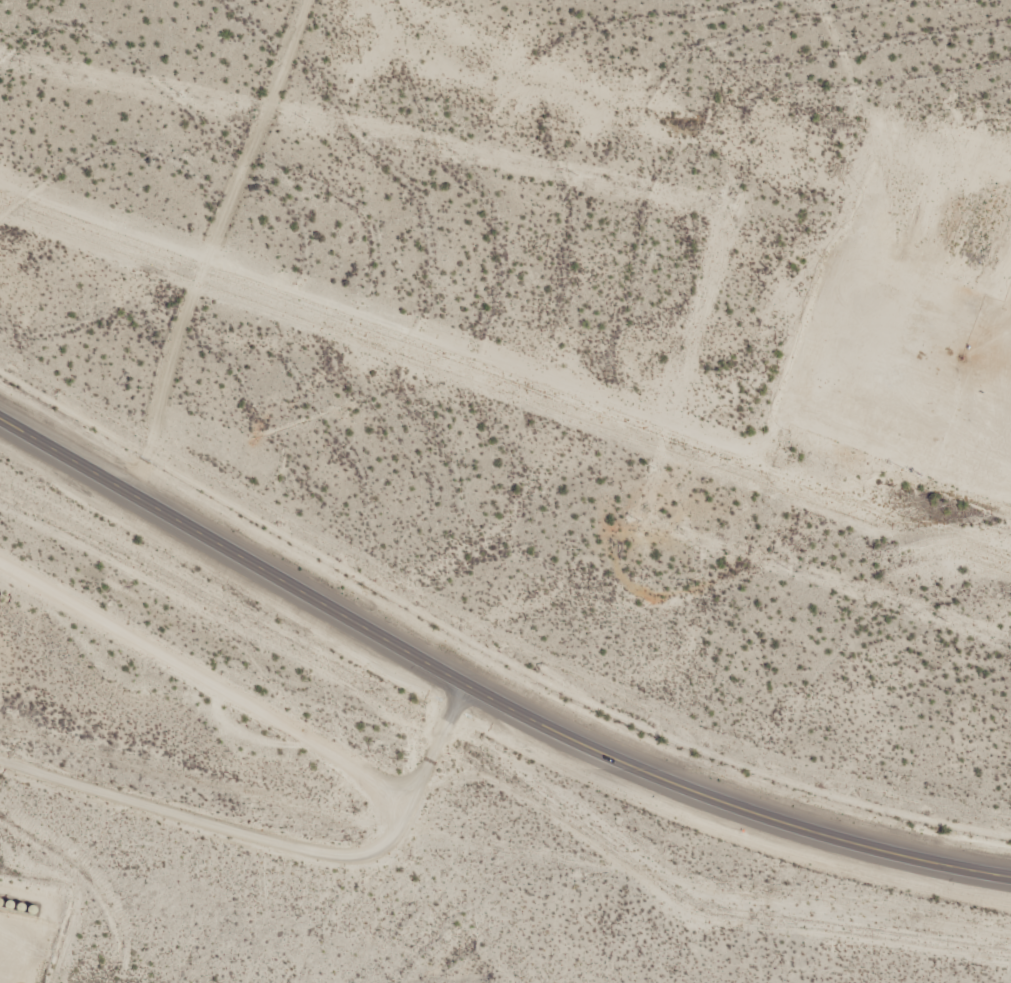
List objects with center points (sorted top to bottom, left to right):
road: (189, 237)
road: (485, 694)

